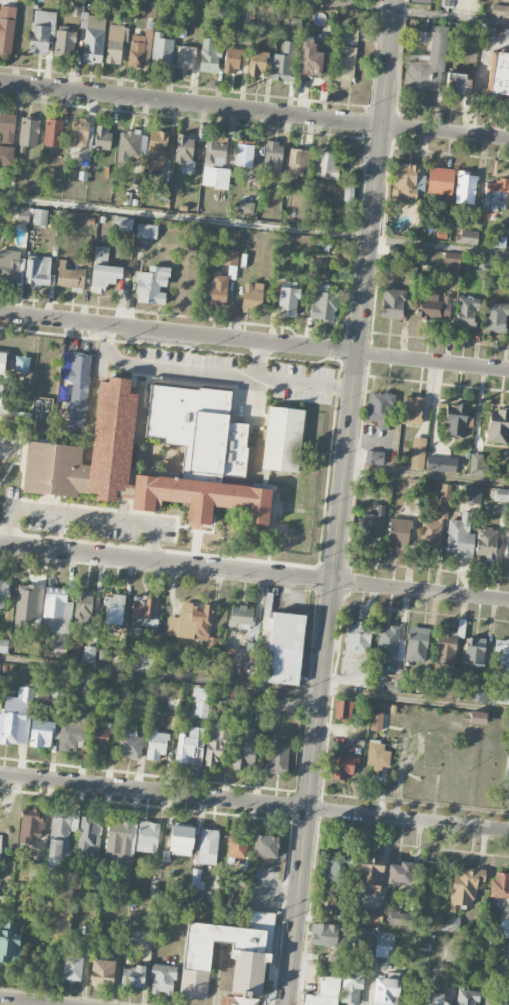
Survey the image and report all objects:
building: (100, 0)
building: (420, 1)
road: (402, 11)
building: (500, 11)
building: (7, 28)
building: (41, 31)
building: (348, 33)
building: (64, 44)
building: (114, 44)
building: (92, 45)
building: (139, 47)
building: (161, 51)
building: (209, 56)
building: (311, 57)
building: (185, 58)
building: (231, 61)
building: (283, 63)
building: (258, 64)
building: (428, 65)
building: (344, 67)
building: (458, 83)
road: (254, 111)
building: (7, 127)
building: (53, 133)
building: (28, 134)
building: (79, 134)
building: (102, 137)
building: (128, 146)
building: (157, 150)
building: (185, 153)
building: (6, 155)
building: (244, 155)
building: (272, 157)
building: (299, 163)
building: (326, 164)
building: (215, 165)
road: (376, 176)
building: (440, 181)
building: (407, 182)
building: (465, 188)
building: (161, 193)
building: (496, 195)
building: (245, 207)
building: (23, 214)
building: (40, 217)
building: (123, 223)
road: (254, 226)
building: (146, 231)
building: (468, 237)
building: (230, 258)
building: (340, 259)
building: (9, 266)
building: (452, 268)
building: (103, 270)
building: (37, 272)
building: (69, 276)
building: (152, 285)
building: (216, 291)
building: (252, 296)
building: (287, 302)
building: (323, 303)
building: (392, 304)
building: (435, 307)
building: (467, 312)
building: (495, 317)
road: (178, 332)
road: (260, 360)
building: (2, 362)
road: (432, 362)
road: (215, 373)
building: (77, 388)
building: (0, 391)
building: (379, 407)
building: (411, 410)
building: (41, 415)
building: (455, 420)
building: (492, 425)
building: (198, 429)
building: (282, 439)
road: (1, 442)
building: (418, 453)
building: (374, 457)
building: (440, 464)
building: (476, 465)
building: (128, 469)
road: (427, 474)
building: (372, 481)
building: (501, 494)
building: (472, 495)
road: (83, 518)
building: (434, 524)
building: (370, 526)
building: (399, 533)
building: (460, 537)
building: (507, 542)
building: (486, 543)
road: (254, 573)
building: (3, 590)
building: (83, 608)
building: (114, 608)
building: (54, 610)
building: (143, 612)
building: (240, 617)
building: (190, 622)
building: (357, 638)
building: (416, 644)
building: (3, 645)
building: (389, 646)
building: (445, 647)
building: (284, 649)
building: (474, 653)
building: (88, 654)
building: (103, 654)
building: (501, 659)
road: (321, 678)
road: (254, 686)
building: (478, 693)
building: (39, 696)
building: (499, 697)
building: (200, 703)
building: (343, 710)
building: (477, 718)
building: (263, 719)
building: (376, 721)
building: (73, 727)
building: (41, 734)
building: (99, 736)
building: (129, 743)
building: (156, 746)
building: (190, 746)
building: (245, 749)
building: (213, 750)
building: (377, 754)
building: (277, 759)
building: (343, 767)
building: (507, 769)
road: (254, 803)
building: (30, 825)
building: (88, 836)
building: (147, 837)
building: (181, 840)
building: (0, 841)
building: (237, 846)
building: (265, 846)
building: (208, 847)
building: (58, 848)
building: (118, 850)
building: (336, 871)
building: (38, 872)
building: (370, 873)
building: (399, 873)
building: (196, 879)
building: (500, 885)
building: (464, 887)
parking lot: (264, 890)
building: (326, 903)
building: (325, 913)
building: (370, 916)
building: (399, 919)
building: (452, 923)
building: (504, 929)
building: (326, 935)
building: (360, 935)
building: (115, 939)
building: (385, 939)
building: (9, 941)
building: (251, 951)
building: (507, 951)
building: (72, 968)
building: (102, 972)
road: (218, 973)
road: (213, 975)
building: (133, 977)
building: (163, 980)
building: (350, 988)
building: (323, 992)
building: (386, 992)
building: (467, 997)
building: (434, 999)
building: (495, 999)
road: (6, 1004)

